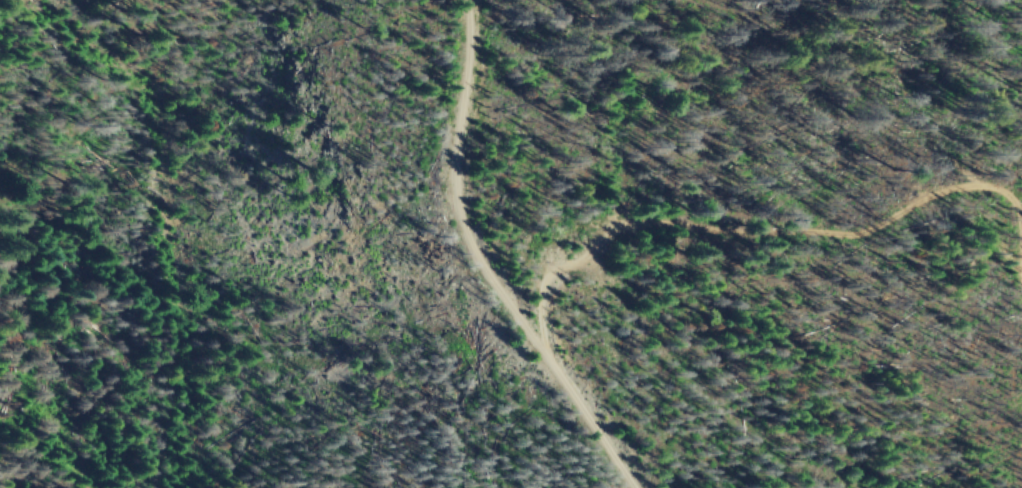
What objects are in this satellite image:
road: (615, 442)

